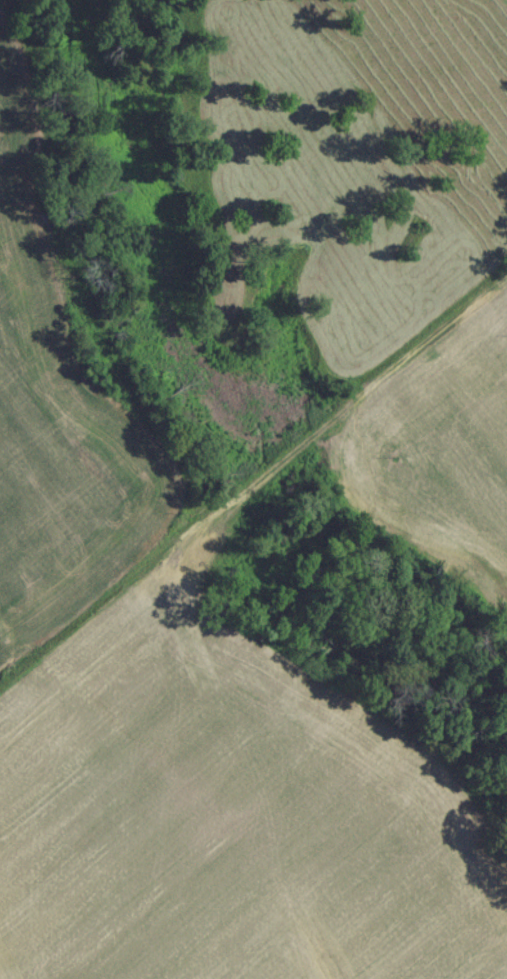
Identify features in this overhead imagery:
road: (253, 480)

